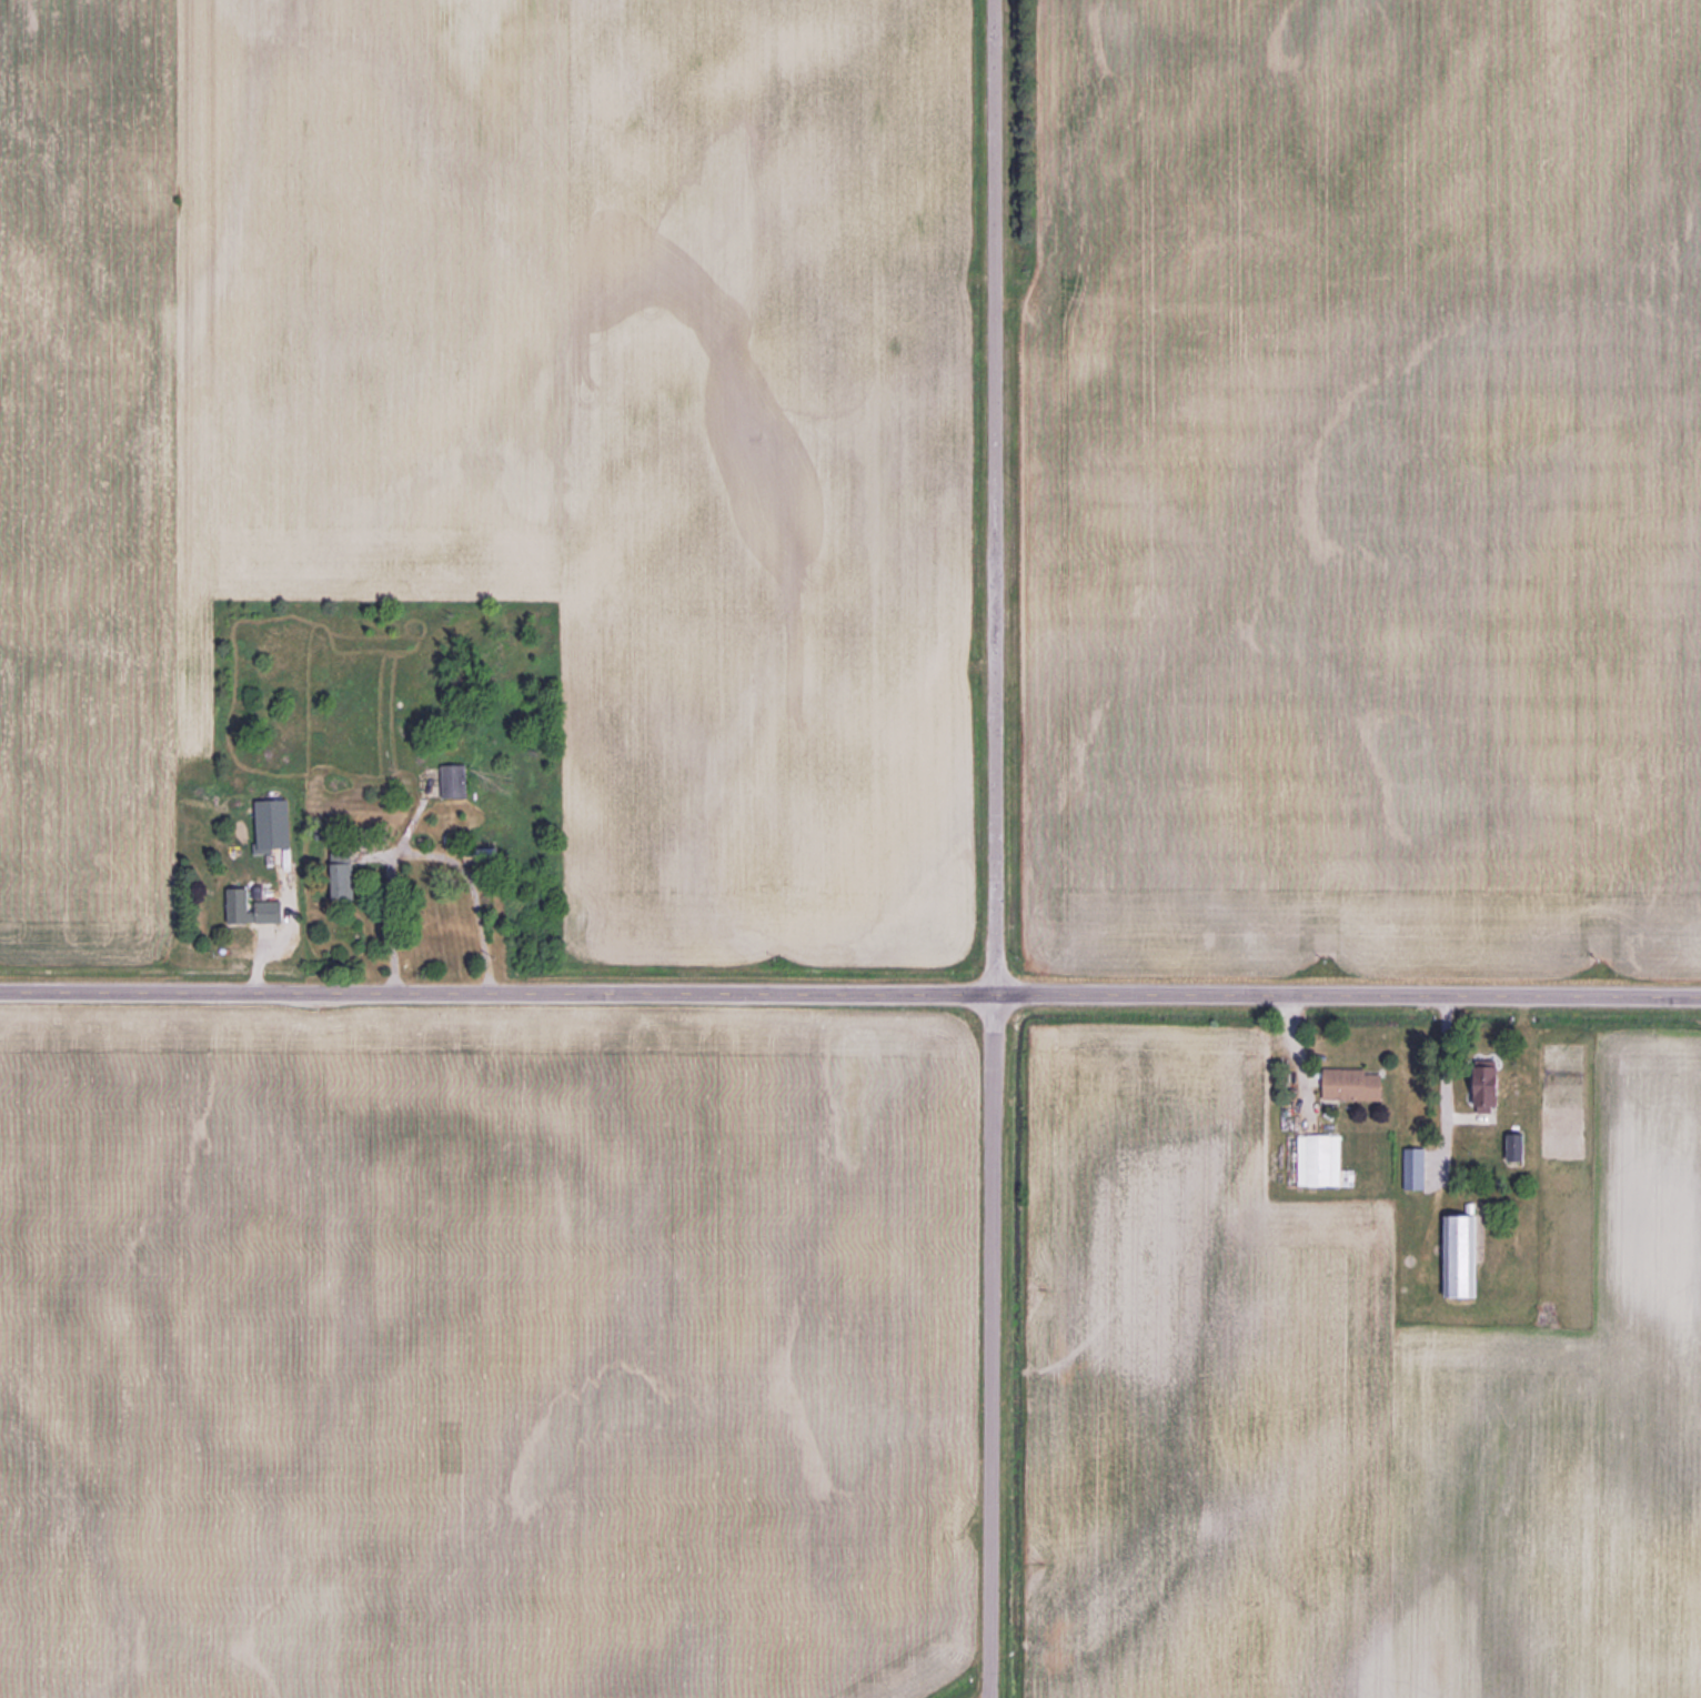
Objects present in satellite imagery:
building: (457, 782)
road: (996, 848)
road: (422, 852)
building: (349, 883)
building: (241, 906)
building: (273, 912)
road: (850, 996)
building: (1357, 1084)
building: (1494, 1085)
building: (1516, 1146)
building: (1323, 1161)
building: (1467, 1254)
road: (983, 1695)

